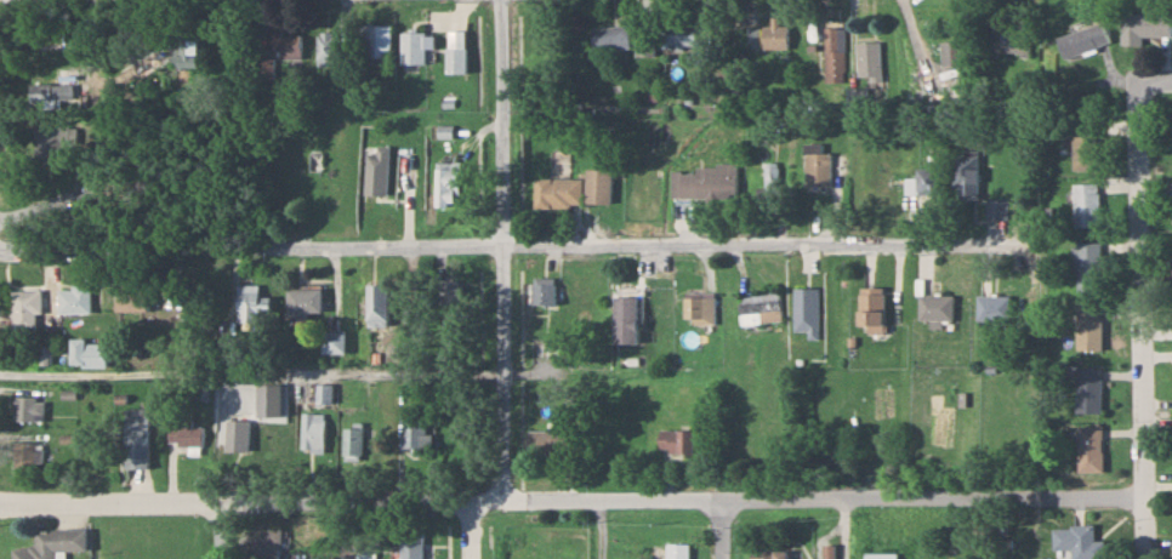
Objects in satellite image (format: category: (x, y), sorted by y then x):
building: (1145, 27)
building: (678, 35)
building: (769, 35)
building: (375, 38)
building: (608, 38)
building: (1019, 39)
building: (1086, 40)
building: (285, 41)
building: (411, 45)
building: (324, 46)
building: (643, 46)
building: (189, 50)
building: (952, 53)
building: (834, 55)
building: (454, 58)
building: (867, 58)
building: (263, 67)
road: (1155, 78)
building: (53, 91)
building: (855, 97)
building: (56, 137)
building: (1085, 144)
building: (817, 165)
building: (376, 170)
building: (966, 173)
building: (928, 177)
building: (705, 181)
building: (772, 181)
building: (445, 182)
building: (597, 184)
building: (556, 190)
building: (1087, 204)
building: (996, 207)
road: (512, 244)
road: (502, 249)
building: (1087, 266)
building: (542, 289)
building: (449, 290)
building: (74, 297)
building: (132, 300)
building: (303, 301)
building: (252, 302)
building: (376, 302)
building: (759, 307)
building: (935, 307)
building: (994, 307)
building: (25, 308)
building: (872, 308)
building: (699, 309)
building: (807, 310)
building: (625, 318)
road: (1139, 319)
building: (1089, 327)
building: (331, 340)
building: (86, 352)
road: (351, 372)
building: (1088, 389)
building: (322, 392)
building: (27, 409)
building: (311, 430)
building: (184, 432)
building: (415, 432)
building: (237, 434)
building: (135, 437)
building: (548, 440)
building: (676, 440)
building: (351, 441)
building: (1089, 447)
building: (23, 454)
road: (570, 500)
road: (97, 529)
road: (221, 529)
road: (345, 529)
road: (467, 529)
road: (599, 529)
road: (721, 529)
building: (1079, 541)
building: (411, 542)
building: (51, 543)
building: (264, 546)
building: (677, 551)
building: (770, 554)
building: (881, 555)

